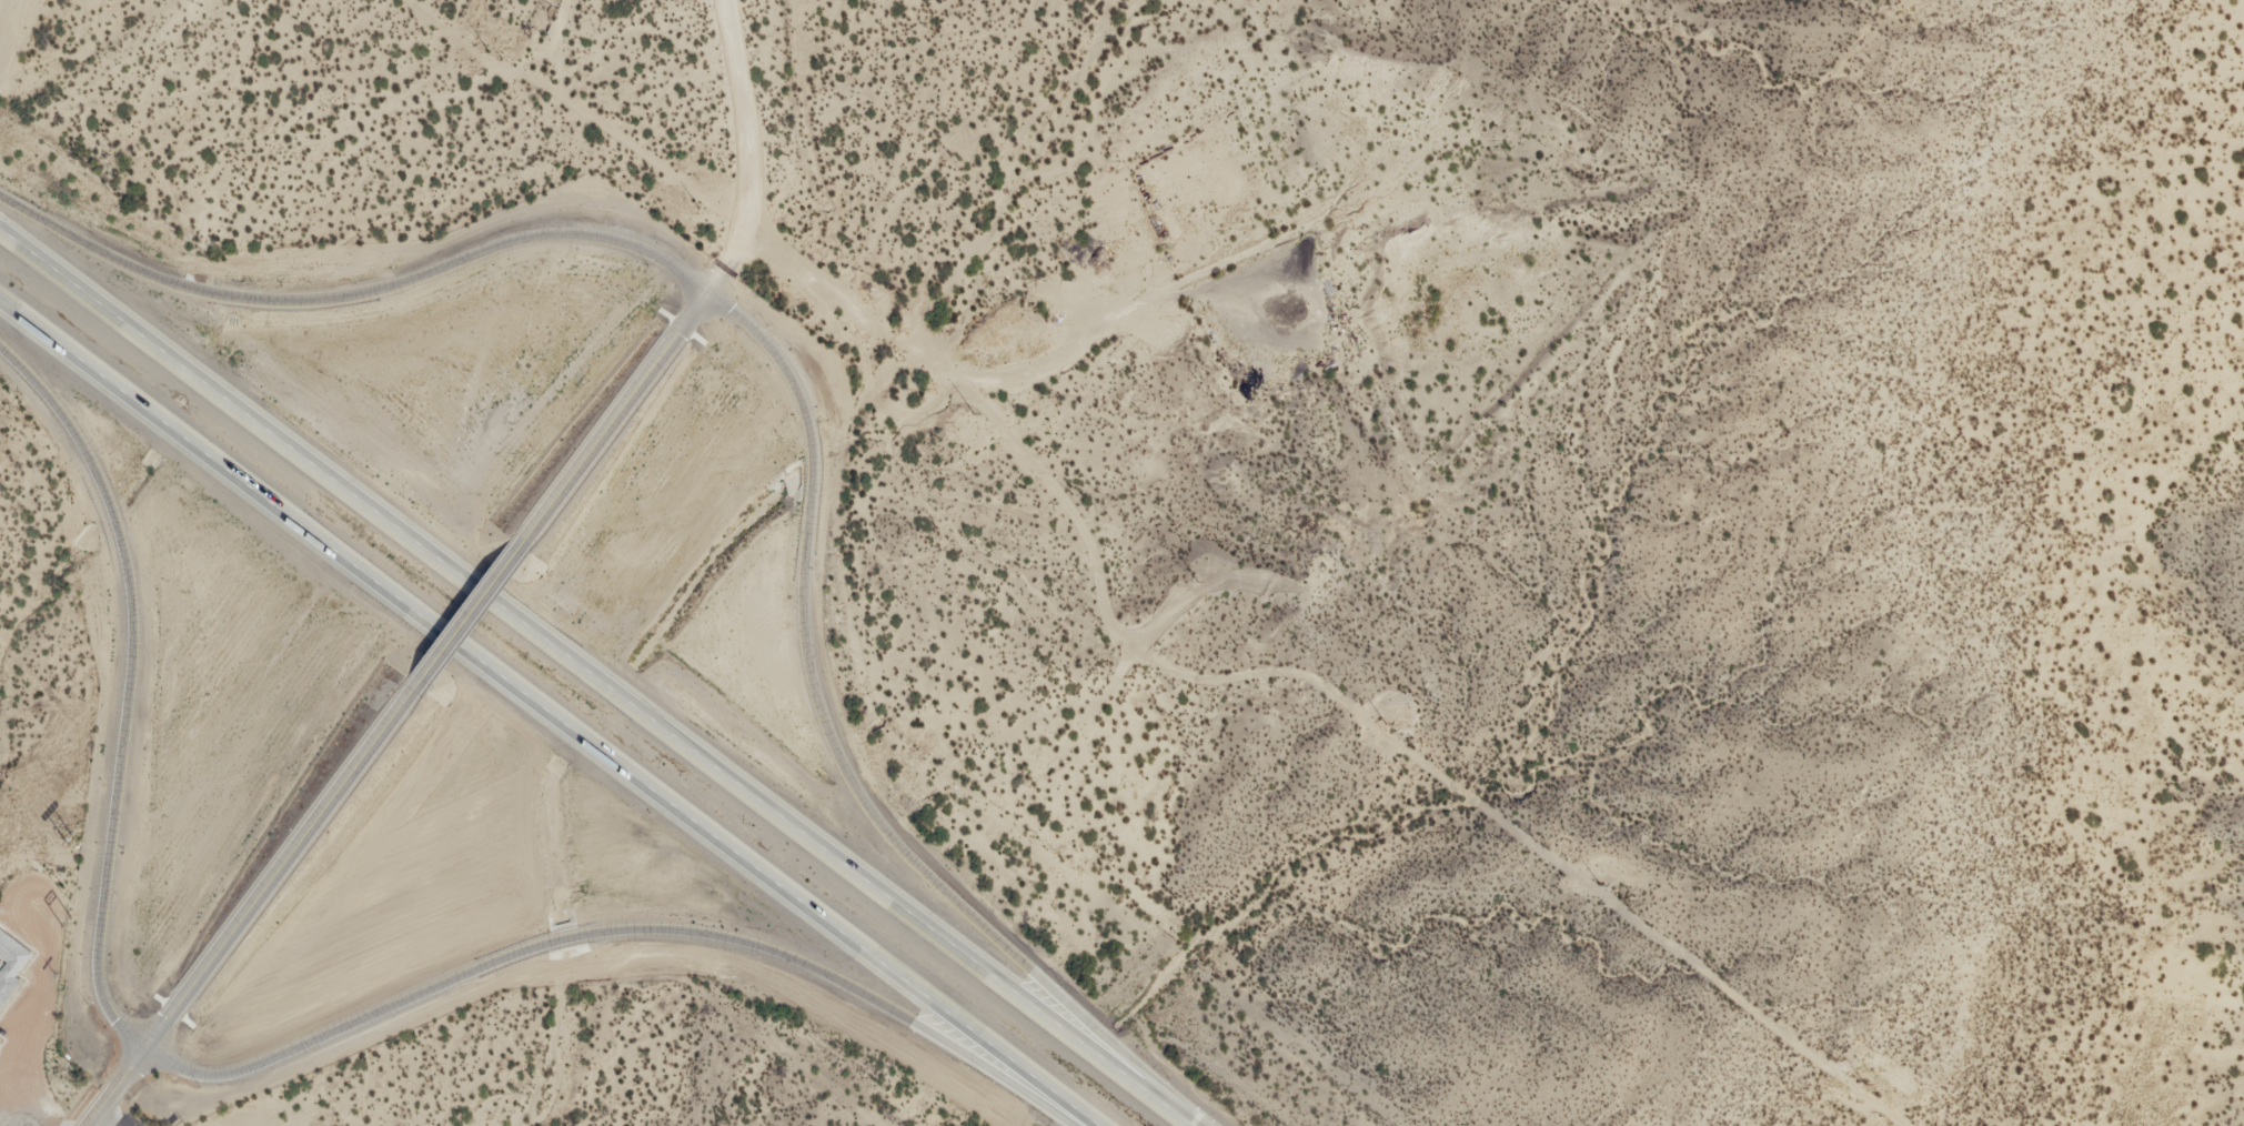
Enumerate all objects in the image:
road: (748, 149)
road: (352, 296)
road: (610, 423)
road: (464, 621)
road: (593, 680)
road: (124, 690)
road: (547, 713)
road: (836, 763)
road: (249, 907)
road: (614, 932)
building: (7, 972)

